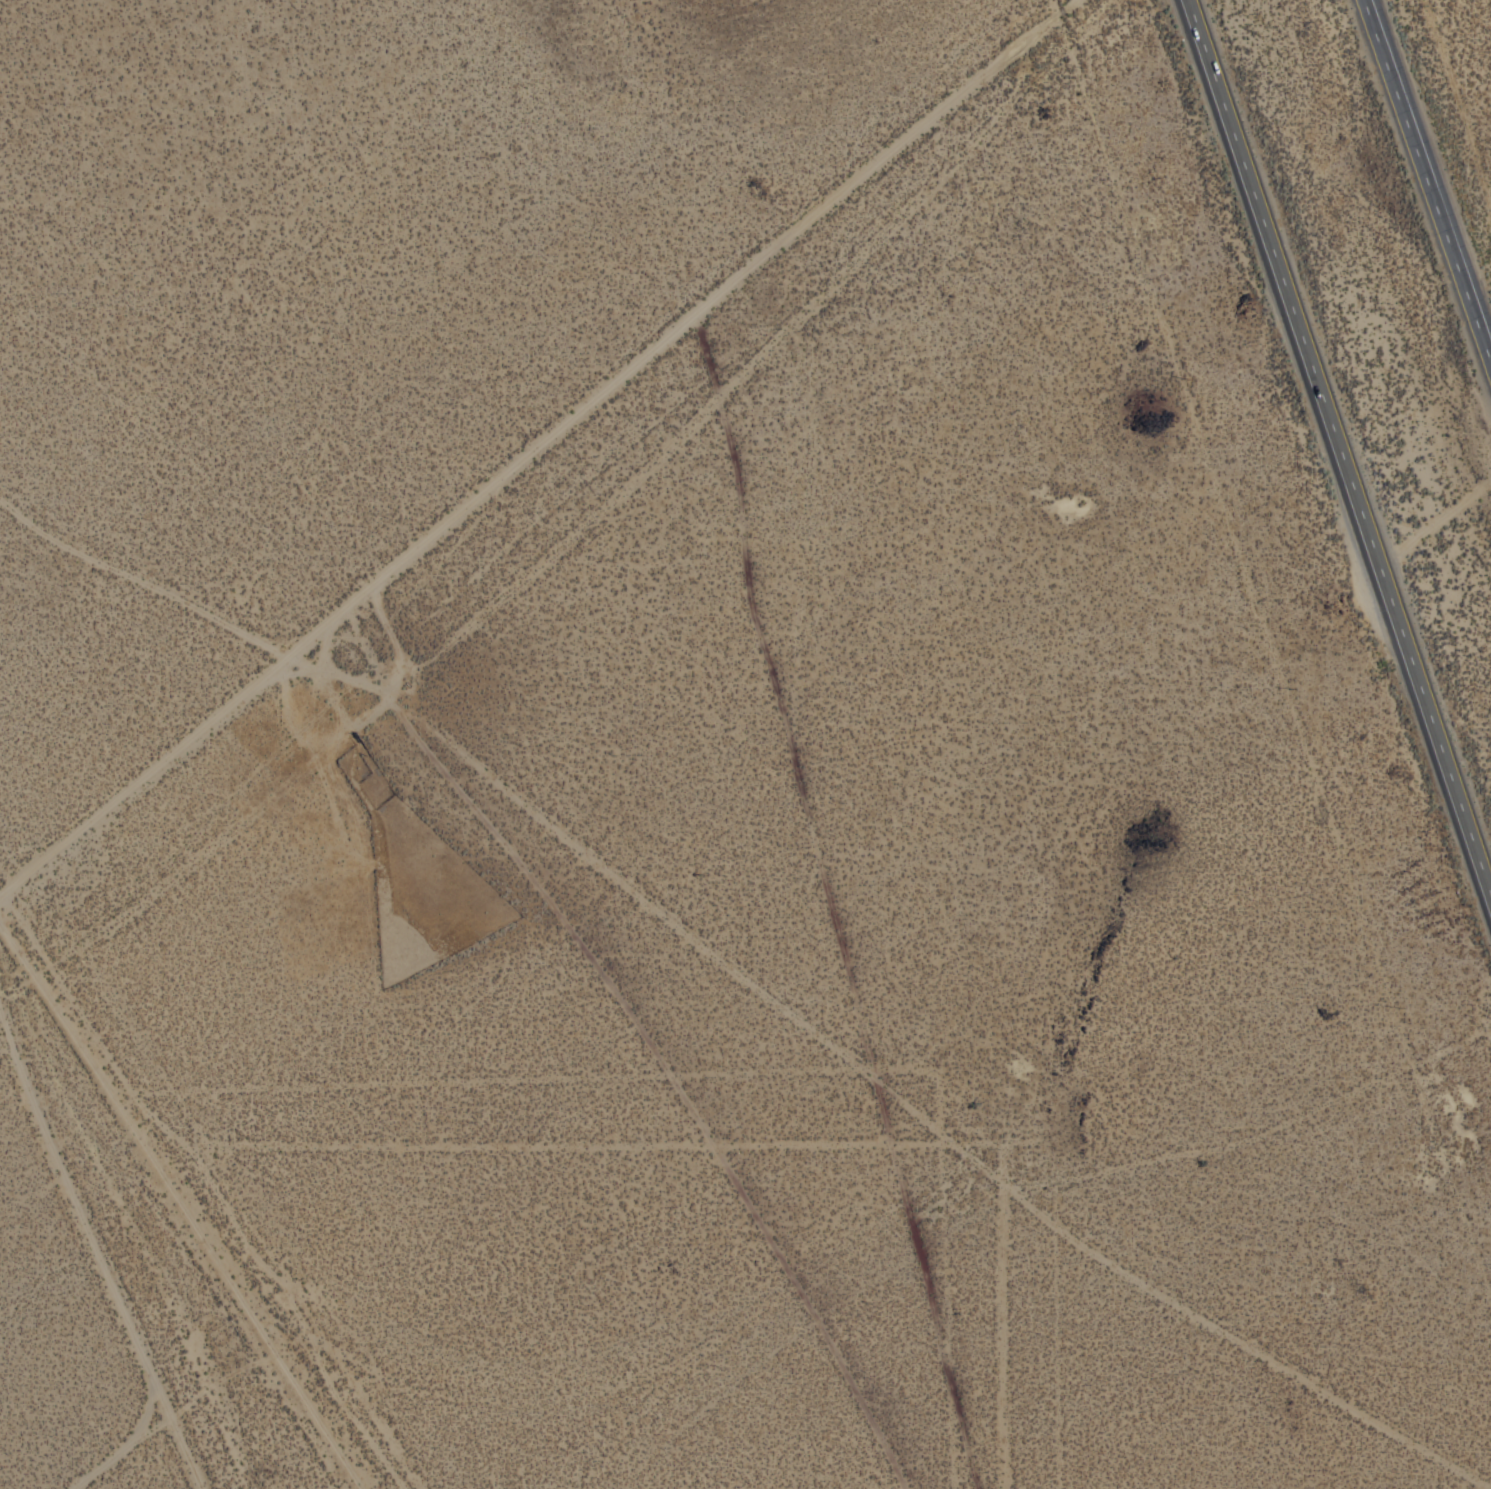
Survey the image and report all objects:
road: (1429, 166)
road: (1343, 442)
road: (538, 451)
road: (756, 982)
road: (100, 1233)
road: (130, 1442)

